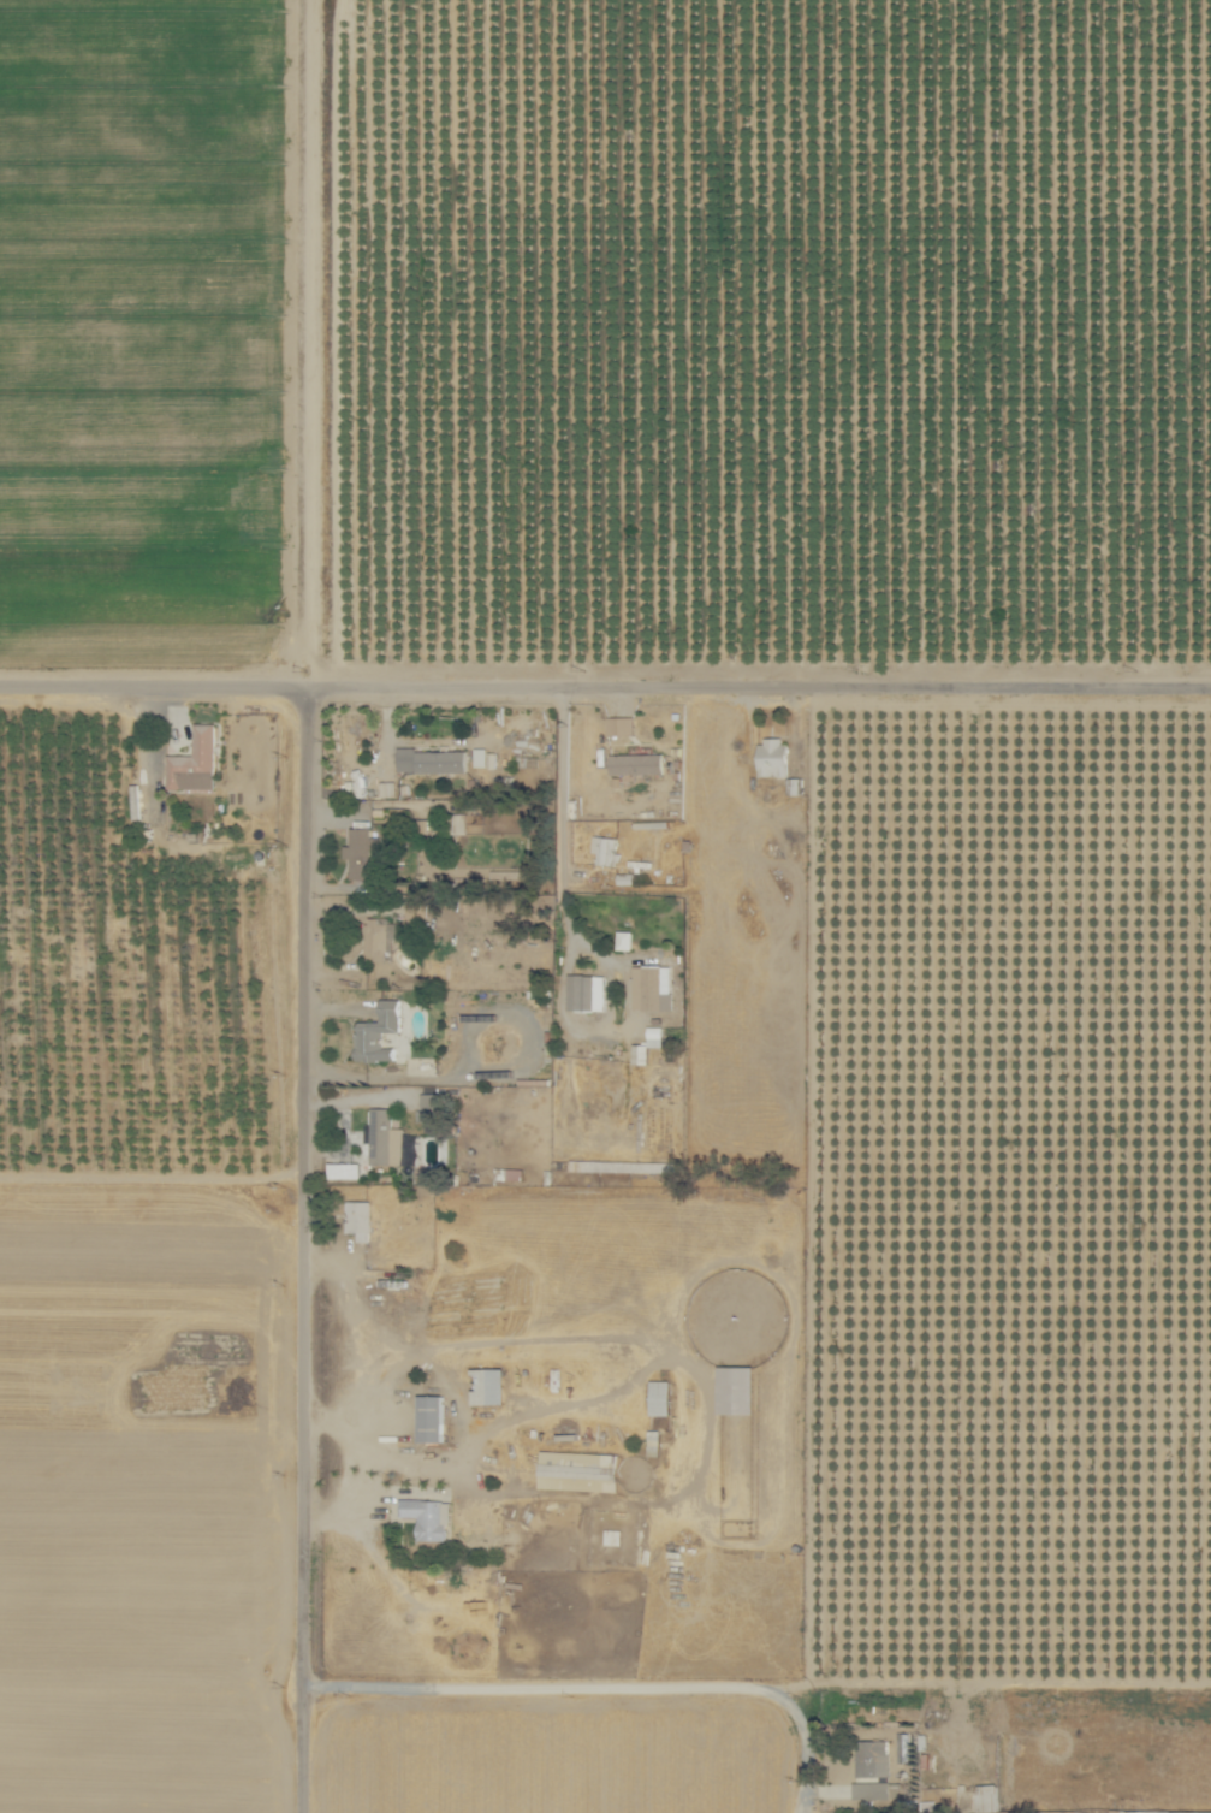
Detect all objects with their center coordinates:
crop: (604, 325)
road: (330, 338)
road: (605, 676)
building: (619, 723)
building: (770, 754)
building: (483, 756)
building: (429, 758)
building: (192, 759)
building: (635, 760)
road: (565, 807)
building: (456, 820)
building: (604, 847)
building: (358, 849)
building: (623, 876)
building: (379, 936)
building: (623, 938)
building: (498, 965)
building: (651, 985)
building: (584, 989)
building: (376, 1030)
building: (653, 1033)
building: (639, 1051)
building: (428, 1104)
building: (384, 1136)
building: (357, 1216)
road: (314, 1244)
building: (487, 1384)
building: (734, 1387)
building: (659, 1396)
building: (428, 1416)
building: (652, 1440)
building: (576, 1469)
building: (427, 1516)
road: (609, 1687)
building: (902, 1744)
building: (871, 1759)
building: (869, 1789)
building: (976, 1796)

